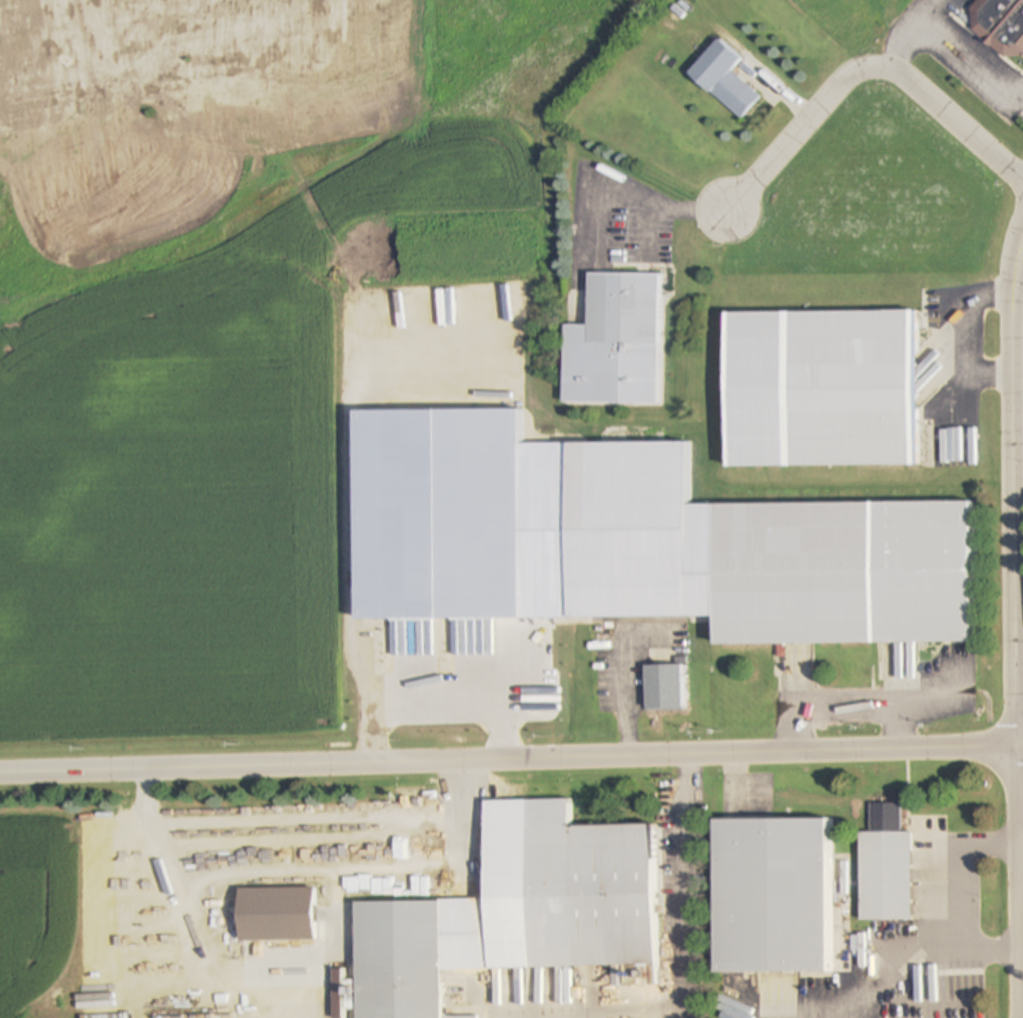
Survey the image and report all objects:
building: (999, 25)
road: (915, 35)
road: (869, 69)
building: (723, 78)
road: (659, 206)
building: (623, 309)
road: (955, 332)
building: (821, 393)
road: (1019, 509)
building: (842, 578)
building: (455, 603)
road: (365, 617)
road: (1020, 680)
building: (662, 688)
road: (624, 692)
road: (850, 703)
road: (511, 754)
road: (1021, 840)
building: (884, 872)
road: (1019, 882)
building: (776, 898)
building: (590, 902)
road: (469, 906)
road: (682, 943)
building: (399, 963)
building: (945, 983)
road: (646, 1014)

